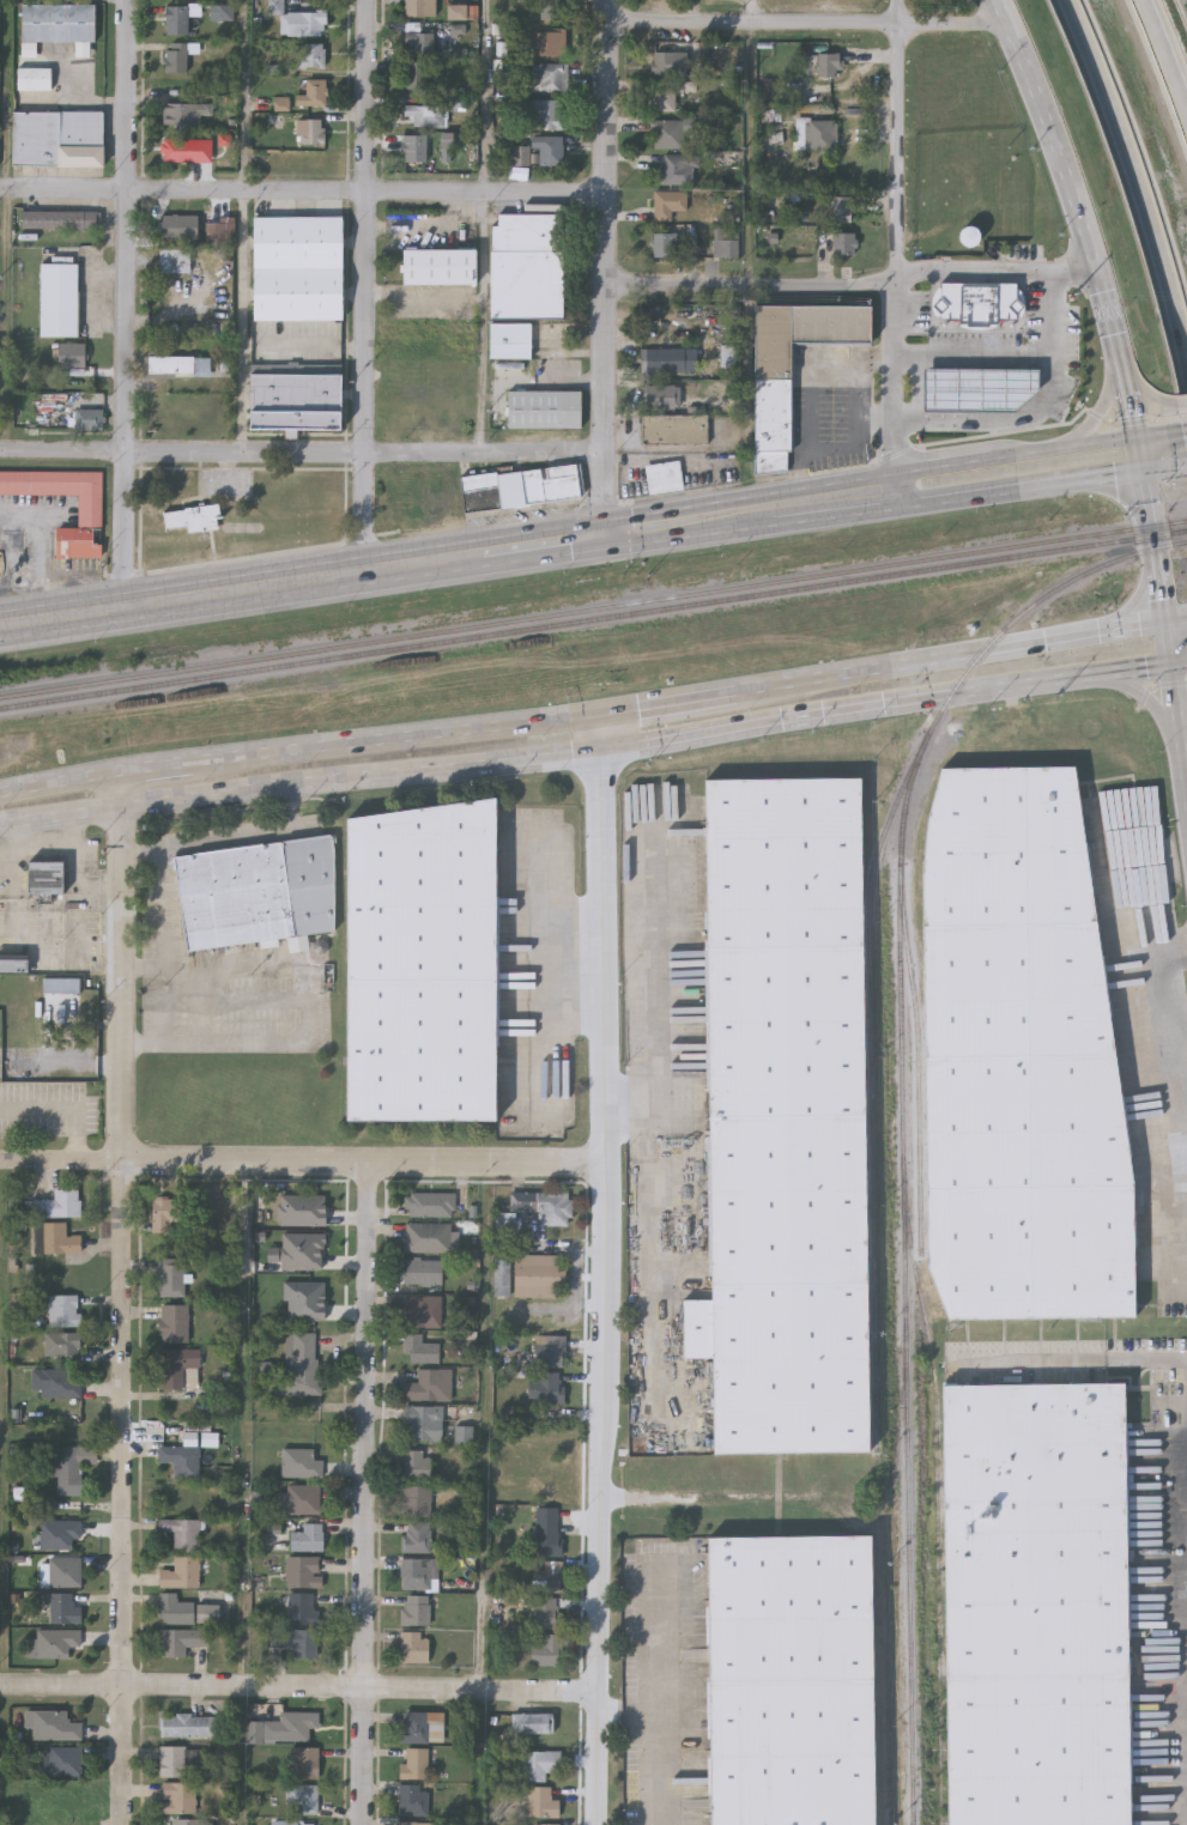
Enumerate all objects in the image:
building: (810, 0)
building: (419, 8)
building: (551, 10)
road: (752, 12)
building: (177, 17)
building: (57, 23)
building: (302, 24)
road: (806, 24)
building: (418, 43)
building: (545, 44)
road: (1168, 48)
building: (310, 55)
building: (176, 56)
building: (670, 65)
building: (828, 65)
building: (34, 74)
building: (417, 74)
building: (546, 78)
road: (246, 93)
building: (313, 93)
road: (484, 95)
building: (664, 101)
building: (184, 114)
building: (425, 115)
building: (546, 115)
building: (311, 132)
building: (667, 134)
building: (820, 134)
building: (57, 138)
road: (900, 141)
building: (414, 147)
building: (180, 150)
building: (549, 151)
building: (520, 156)
road: (1137, 157)
building: (678, 169)
road: (302, 189)
building: (667, 204)
building: (838, 210)
road: (1077, 214)
building: (61, 217)
building: (178, 224)
road: (128, 225)
building: (968, 238)
building: (836, 241)
building: (664, 244)
building: (725, 248)
building: (176, 257)
building: (440, 263)
building: (297, 266)
road: (605, 267)
road: (995, 269)
building: (525, 277)
road: (751, 284)
road: (365, 285)
building: (60, 297)
building: (977, 302)
road: (897, 317)
road: (244, 321)
road: (485, 322)
building: (432, 338)
building: (72, 353)
road: (897, 356)
building: (664, 357)
road: (1019, 357)
building: (170, 363)
road: (862, 384)
building: (979, 386)
gas station: (979, 386)
road: (809, 388)
road: (897, 389)
building: (661, 394)
building: (293, 399)
road: (1147, 401)
building: (773, 405)
road: (1181, 406)
building: (545, 407)
road: (1103, 407)
building: (90, 417)
road: (1000, 418)
building: (676, 426)
road: (1183, 430)
road: (860, 438)
traffic signals: (1132, 438)
road: (1097, 443)
road: (897, 447)
road: (63, 451)
road: (365, 455)
road: (1134, 455)
road: (956, 463)
road: (1186, 463)
road: (1161, 468)
traffic signals: (1137, 472)
building: (665, 475)
road: (1078, 480)
road: (878, 484)
building: (474, 489)
road: (897, 491)
road: (830, 499)
road: (938, 503)
building: (91, 509)
building: (194, 516)
road: (702, 519)
road: (127, 529)
traffic signals: (604, 535)
road: (48, 542)
road: (544, 544)
road: (1150, 550)
road: (242, 589)
railway: (593, 606)
railway: (593, 618)
road: (1175, 626)
traffic signals: (1163, 629)
road: (1165, 647)
road: (950, 656)
road: (1177, 662)
traffic signals: (1169, 665)
road: (1149, 698)
road: (672, 701)
traffic signals: (605, 711)
road: (1177, 723)
road: (1183, 732)
road: (400, 738)
traffic signals: (605, 748)
road: (585, 750)
road: (157, 770)
road: (60, 783)
road: (188, 844)
road: (141, 853)
building: (43, 877)
building: (256, 892)
railway: (871, 920)
road: (1174, 953)
building: (13, 962)
building: (422, 962)
road: (144, 972)
road: (1163, 972)
building: (61, 984)
road: (311, 1024)
building: (1021, 1056)
railway: (917, 1068)
road: (65, 1105)
road: (624, 1105)
building: (785, 1116)
road: (648, 1120)
road: (299, 1159)
building: (57, 1205)
building: (219, 1205)
building: (430, 1205)
building: (544, 1205)
building: (165, 1212)
building: (428, 1237)
building: (55, 1238)
road: (598, 1268)
building: (423, 1272)
building: (537, 1275)
building: (171, 1277)
railway: (904, 1289)
road: (122, 1299)
building: (63, 1310)
building: (422, 1310)
building: (174, 1323)
building: (61, 1342)
building: (419, 1348)
building: (549, 1350)
road: (1072, 1360)
building: (302, 1365)
building: (175, 1366)
building: (61, 1382)
building: (429, 1386)
building: (547, 1387)
building: (424, 1421)
building: (301, 1462)
building: (417, 1463)
building: (71, 1467)
road: (368, 1492)
building: (303, 1498)
building: (416, 1499)
railway: (935, 1503)
building: (547, 1530)
building: (182, 1532)
building: (57, 1533)
building: (417, 1535)
building: (307, 1536)
building: (62, 1570)
building: (303, 1570)
building: (181, 1571)
building: (418, 1571)
building: (547, 1576)
building: (1035, 1603)
building: (299, 1606)
building: (62, 1607)
building: (174, 1608)
building: (416, 1608)
building: (545, 1612)
building: (295, 1638)
building: (180, 1639)
building: (55, 1641)
building: (413, 1645)
building: (546, 1649)
road: (660, 1668)
building: (791, 1680)
road: (297, 1682)
building: (532, 1722)
building: (186, 1723)
building: (54, 1724)
building: (289, 1724)
building: (413, 1726)
building: (62, 1759)
building: (171, 1759)
building: (304, 1760)
building: (414, 1763)
building: (535, 1763)
road: (659, 1768)
building: (176, 1797)
building: (302, 1797)
building: (411, 1799)
building: (539, 1800)
building: (187, 1821)
building: (296, 1823)
building: (416, 1823)
building: (543, 1824)

